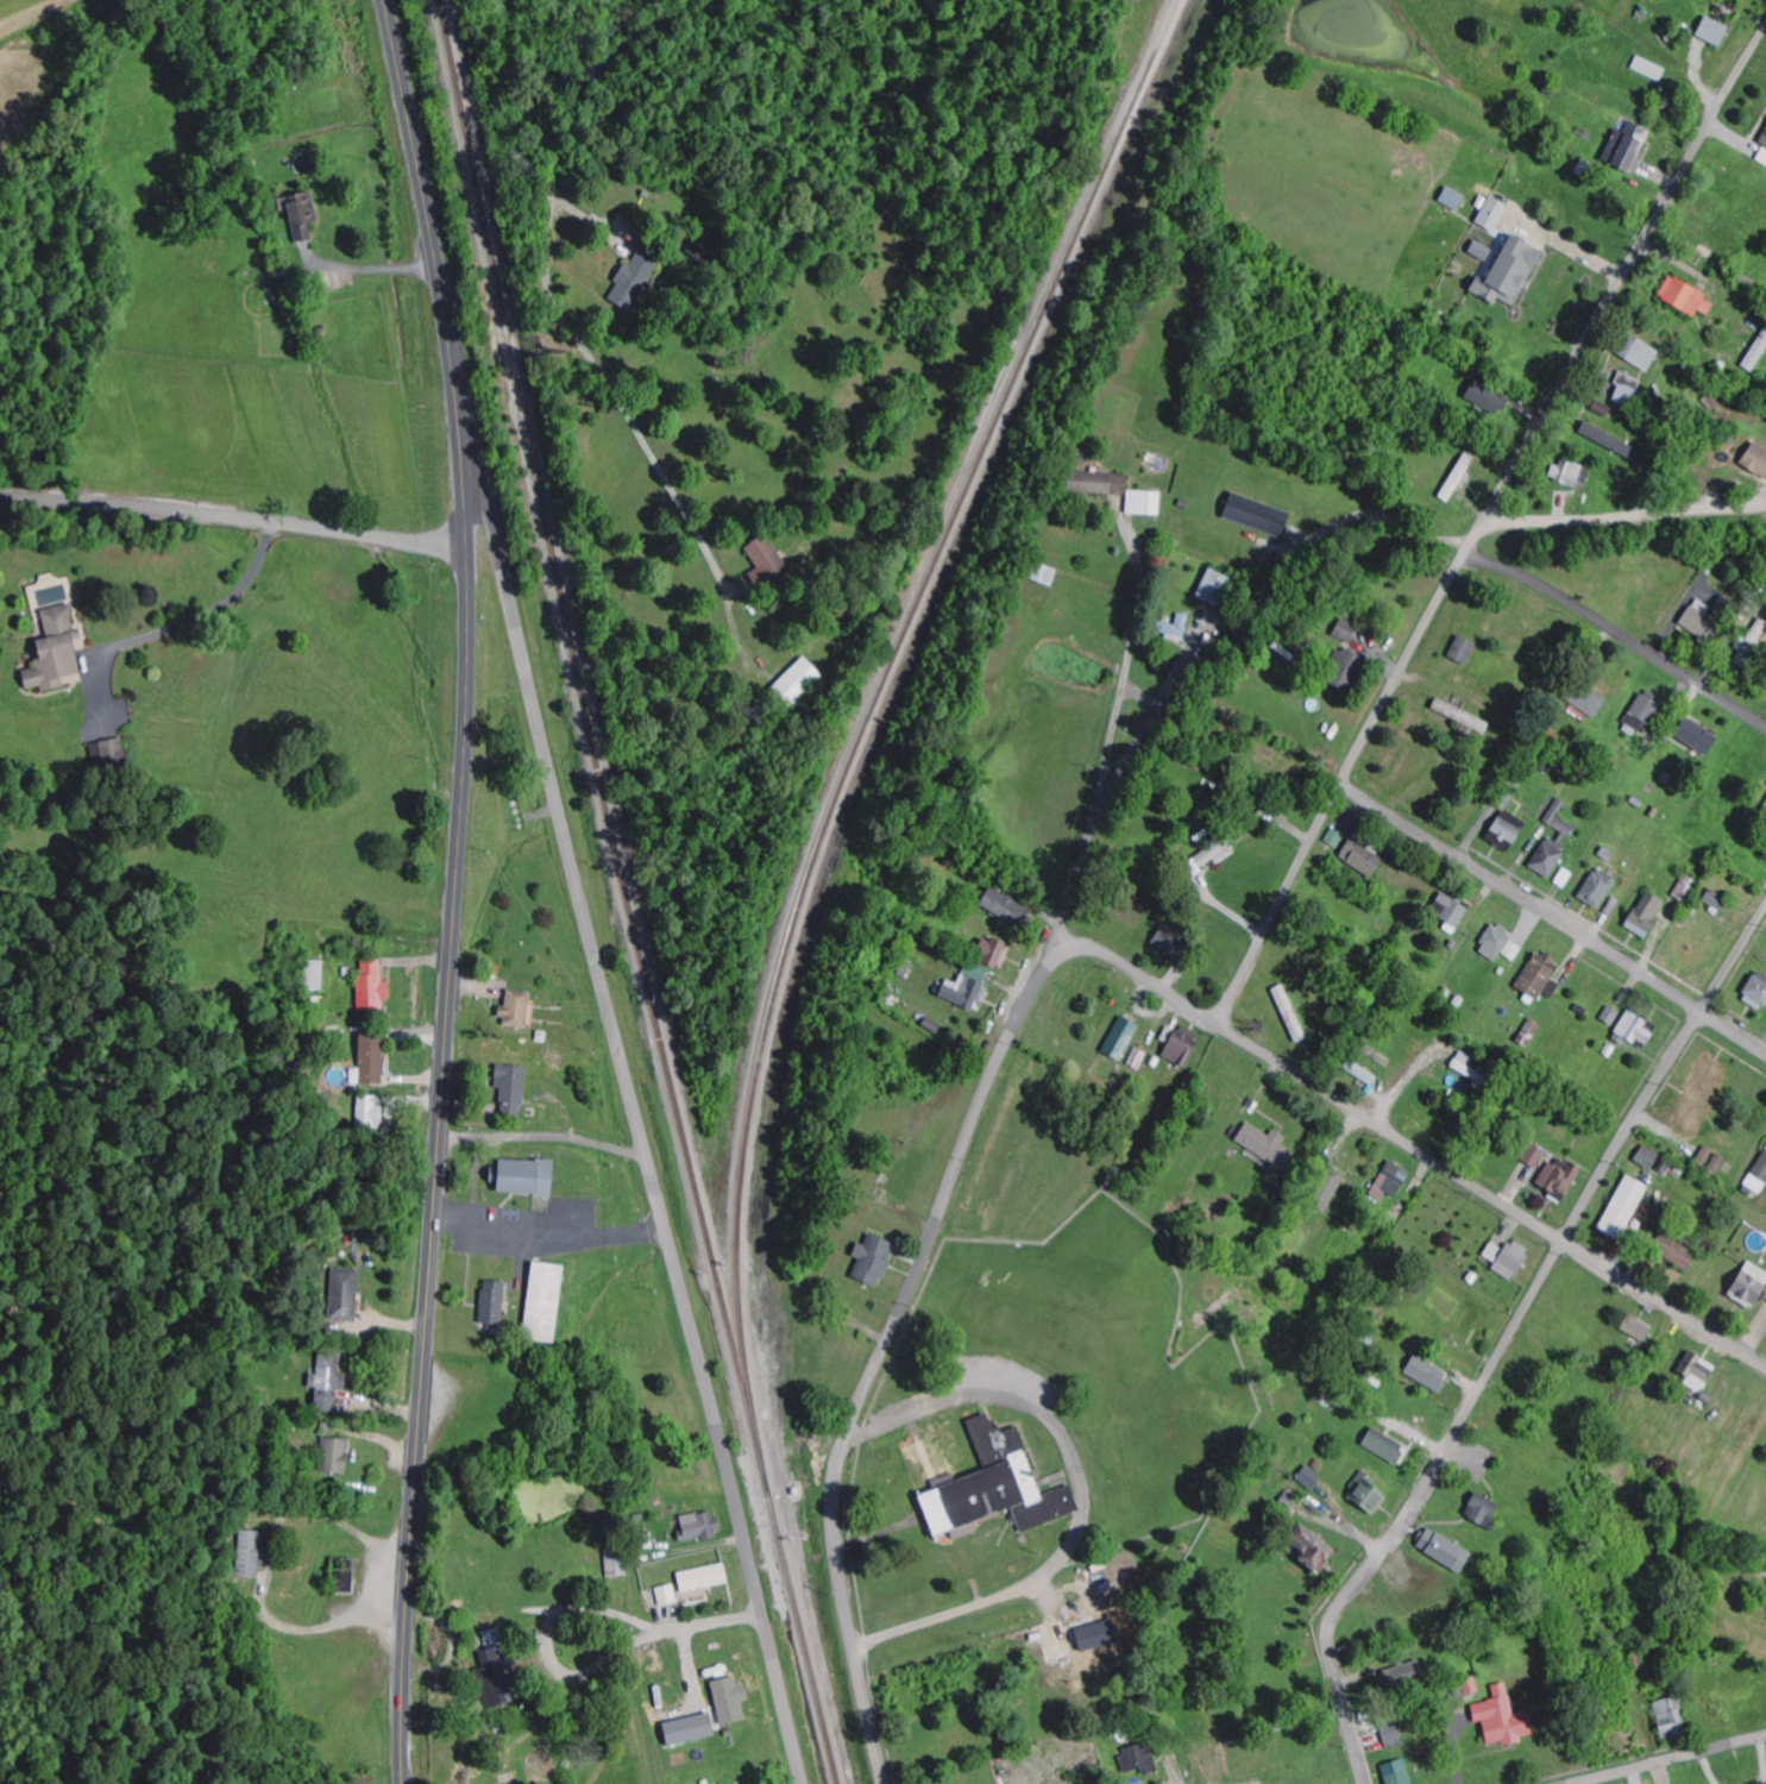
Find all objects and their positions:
building: (1714, 32)
building: (1649, 69)
building: (1764, 142)
building: (1627, 149)
building: (1453, 199)
building: (301, 213)
building: (1492, 214)
building: (1506, 270)
building: (635, 278)
building: (1686, 297)
building: (1639, 352)
building: (1628, 389)
building: (1485, 395)
building: (1611, 440)
building: (1756, 459)
building: (1571, 473)
building: (1457, 477)
building: (1101, 483)
building: (1144, 502)
road: (1626, 514)
building: (1258, 515)
road: (233, 521)
road: (1484, 521)
road: (480, 545)
building: (1043, 573)
building: (1214, 588)
building: (1702, 621)
building: (1346, 630)
road: (1619, 635)
building: (1464, 649)
building: (55, 652)
building: (1346, 670)
railway: (881, 672)
building: (798, 681)
railway: (585, 693)
building: (1586, 701)
building: (1645, 711)
building: (1462, 716)
building: (1698, 737)
road: (1133, 750)
building: (1507, 830)
building: (1336, 837)
building: (1553, 842)
building: (1212, 854)
building: (1362, 858)
building: (1686, 887)
road: (457, 888)
building: (1598, 888)
building: (1716, 899)
building: (1005, 907)
building: (1451, 911)
building: (1647, 915)
road: (1554, 918)
building: (1171, 941)
building: (1500, 944)
building: (993, 953)
building: (313, 975)
building: (1540, 976)
building: (372, 986)
building: (967, 987)
building: (1756, 992)
building: (516, 1010)
building: (1289, 1013)
building: (1611, 1016)
building: (1638, 1029)
building: (1121, 1038)
building: (1180, 1044)
building: (372, 1057)
building: (1468, 1067)
road: (1404, 1086)
building: (511, 1087)
building: (1703, 1087)
road: (627, 1094)
building: (370, 1114)
road: (1403, 1138)
building: (1268, 1148)
building: (1535, 1156)
building: (1705, 1156)
building: (1648, 1157)
park: (1026, 1160)
building: (1720, 1164)
building: (526, 1177)
building: (1560, 1177)
building: (1758, 1177)
building: (1390, 1183)
building: (1326, 1191)
road: (1121, 1207)
building: (1624, 1208)
road: (934, 1237)
building: (1677, 1250)
building: (1509, 1258)
building: (873, 1260)
building: (1751, 1286)
building: (345, 1295)
building: (543, 1302)
building: (494, 1306)
building: (1638, 1330)
road: (1508, 1334)
building: (1698, 1372)
building: (1428, 1374)
building: (328, 1375)
building: (326, 1405)
building: (1385, 1446)
building: (334, 1457)
building: (1309, 1478)
building: (997, 1487)
road: (1081, 1497)
building: (1369, 1497)
building: (1483, 1510)
building: (700, 1526)
building: (1313, 1550)
building: (1445, 1551)
building: (250, 1554)
building: (616, 1560)
building: (703, 1578)
railway: (788, 1584)
building: (667, 1596)
road: (1746, 1607)
road: (645, 1628)
building: (1083, 1648)
road: (598, 1667)
building: (1402, 1675)
building: (498, 1678)
building: (1471, 1686)
building: (730, 1701)
building: (1672, 1719)
building: (1503, 1720)
building: (690, 1730)
building: (1139, 1759)
road: (1678, 1761)
road: (1218, 1763)
building: (1397, 1772)

